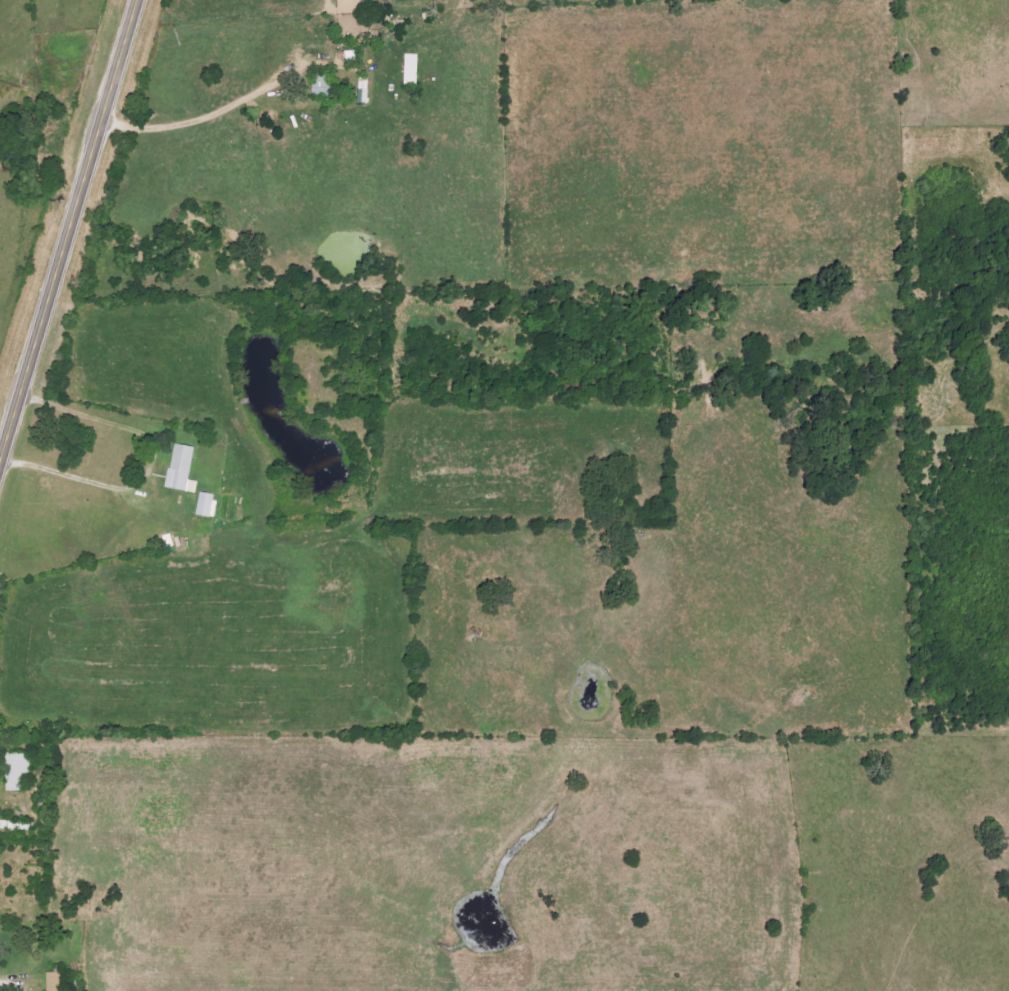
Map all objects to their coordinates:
power tower: (174, 37)
building: (408, 69)
building: (321, 86)
road: (67, 230)
building: (179, 469)
building: (205, 504)
building: (15, 770)
building: (53, 981)

